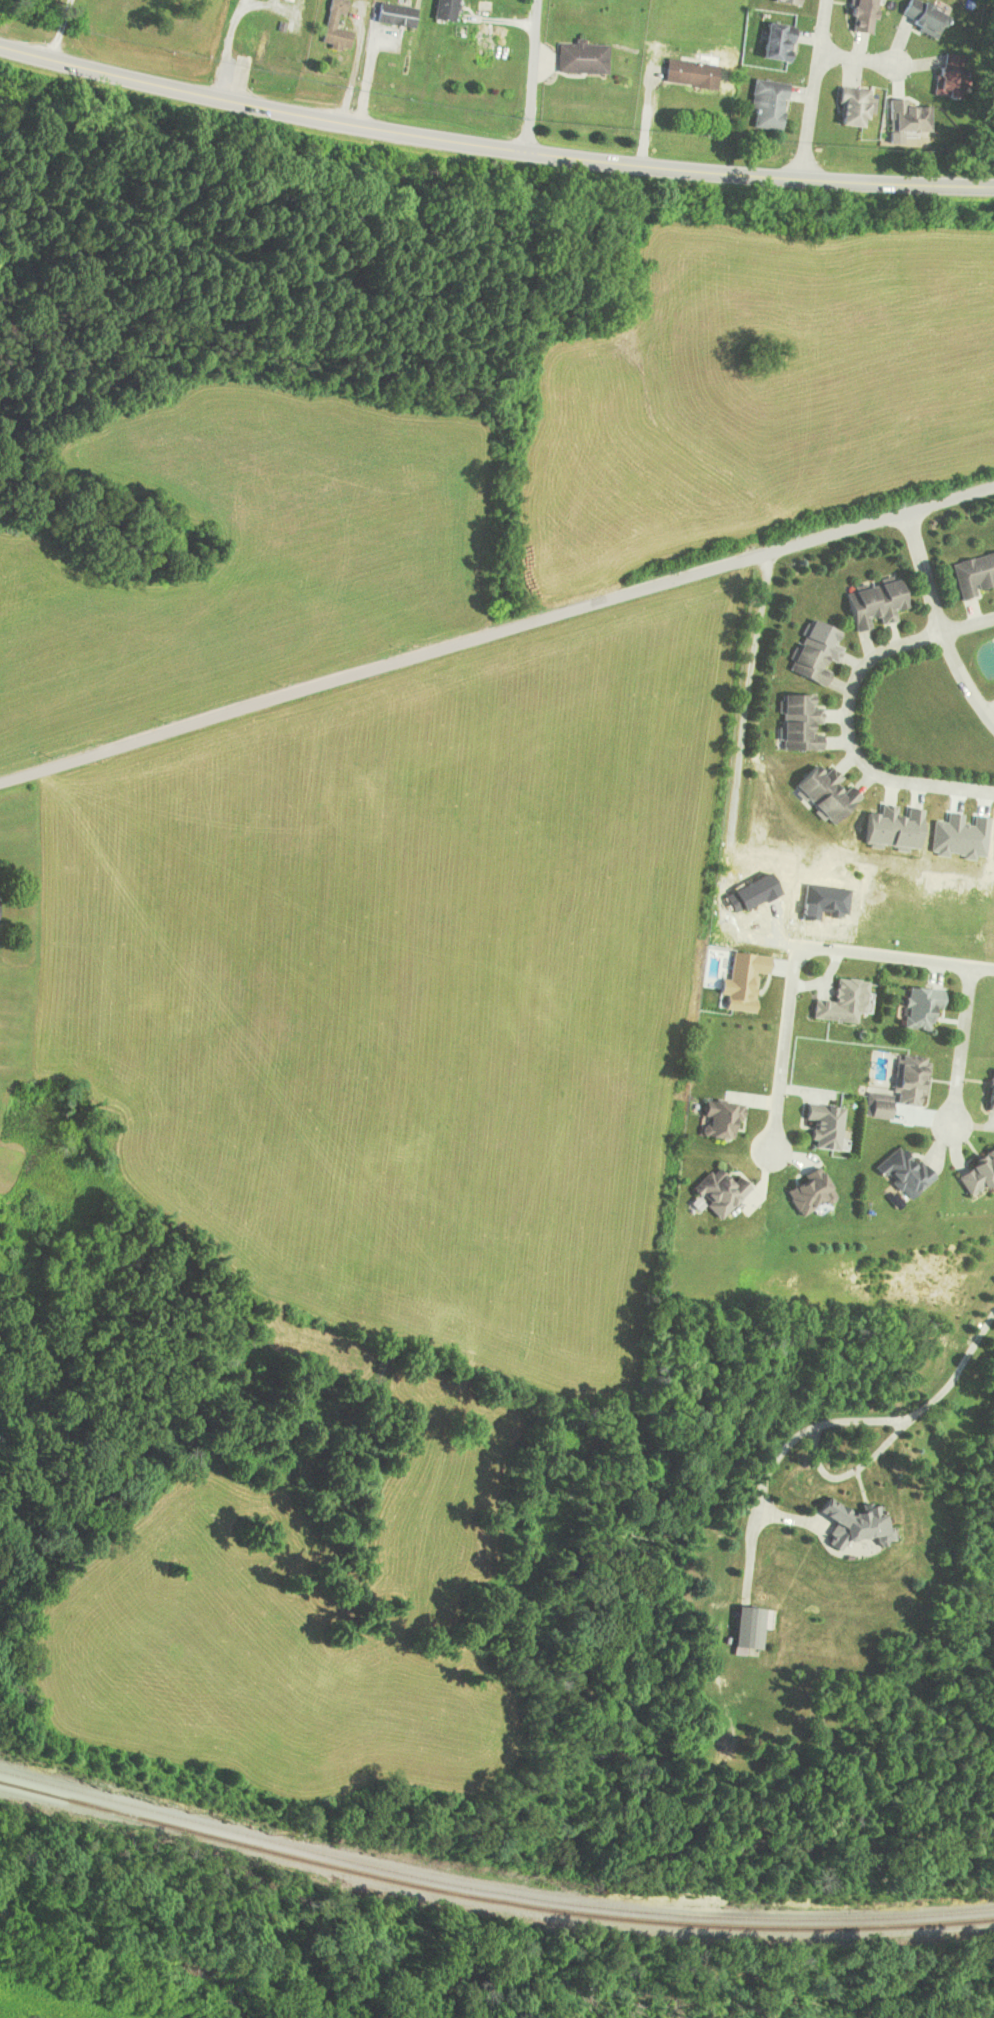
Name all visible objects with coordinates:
building: (287, 0)
building: (784, 2)
building: (443, 10)
building: (394, 15)
building: (859, 16)
building: (922, 18)
building: (328, 22)
building: (247, 41)
building: (775, 42)
building: (482, 51)
building: (581, 58)
road: (856, 58)
building: (689, 73)
building: (947, 75)
road: (531, 80)
road: (811, 91)
building: (766, 105)
building: (851, 106)
building: (905, 118)
road: (492, 156)
road: (948, 499)
road: (923, 573)
building: (973, 575)
building: (872, 604)
road: (451, 646)
building: (813, 653)
road: (964, 680)
road: (847, 713)
building: (798, 724)
road: (738, 773)
building: (824, 794)
road: (894, 957)
building: (843, 1002)
building: (918, 1007)
road: (959, 1048)
road: (783, 1050)
building: (908, 1080)
building: (990, 1092)
building: (720, 1119)
building: (976, 1172)
building: (903, 1173)
building: (717, 1191)
building: (808, 1192)
building: (855, 1524)
building: (747, 1628)
railway: (490, 1891)
railway: (490, 1900)
river: (115, 1953)

